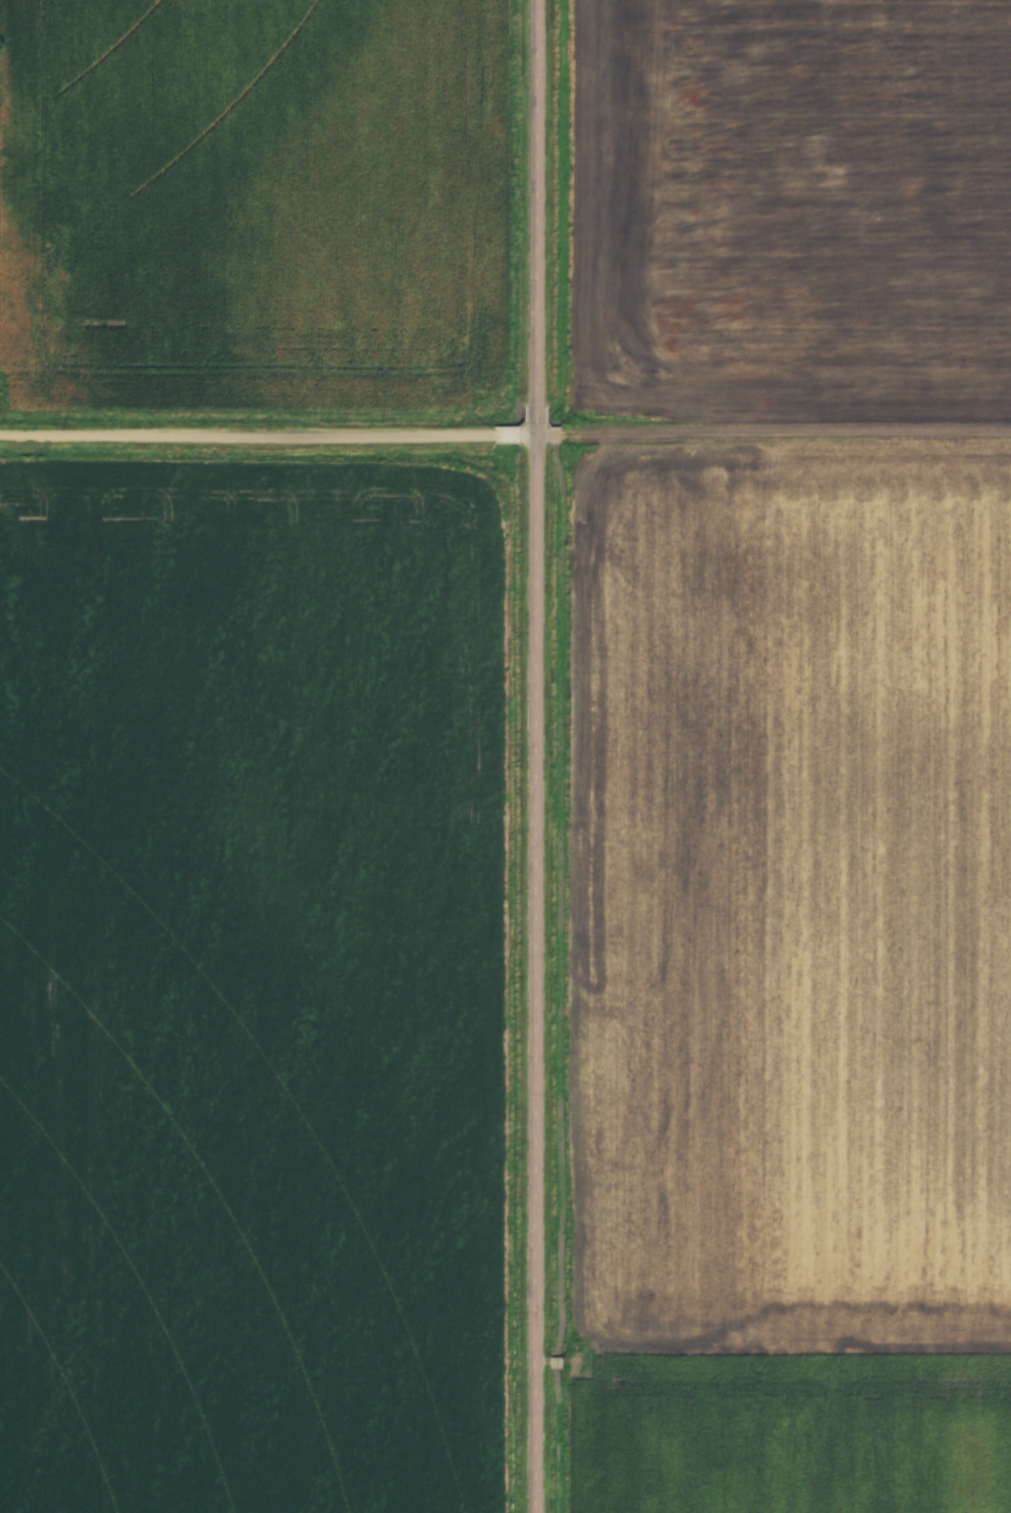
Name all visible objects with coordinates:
road: (505, 433)
road: (535, 756)

